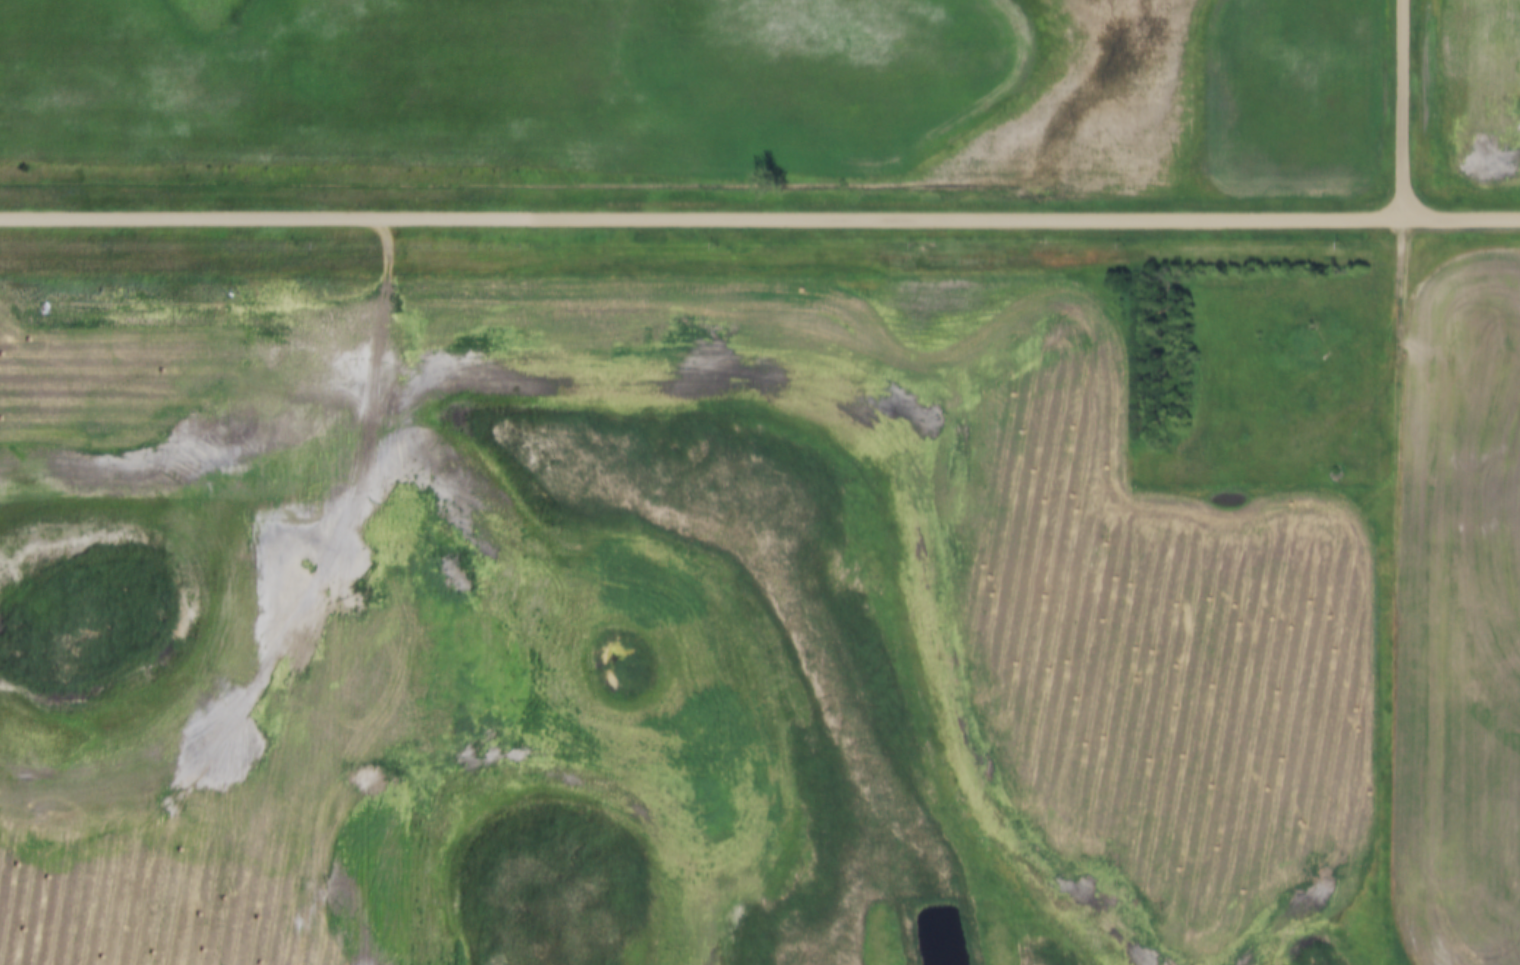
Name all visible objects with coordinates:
road: (1405, 108)
road: (759, 216)
road: (1396, 350)
building: (1166, 458)
building: (1332, 477)

